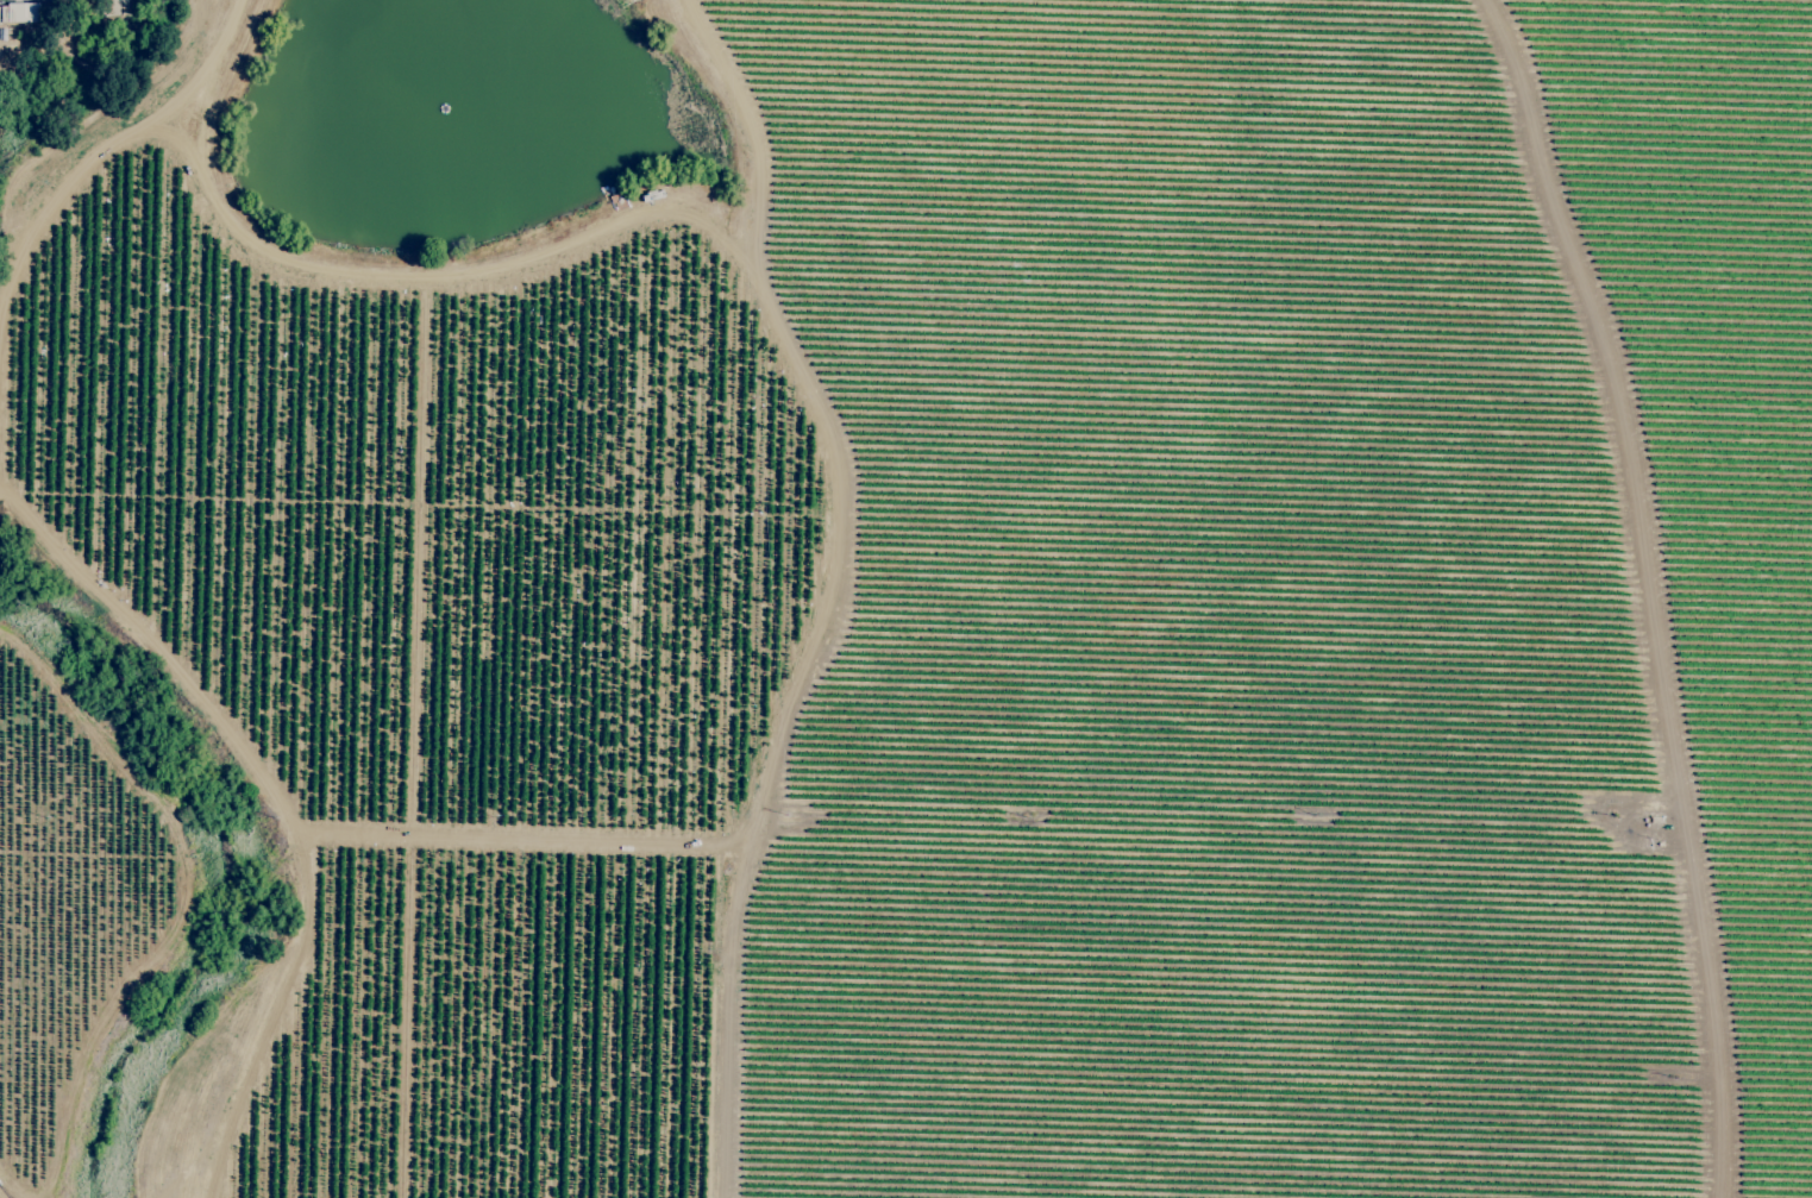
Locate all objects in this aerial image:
crop: (905, 598)

